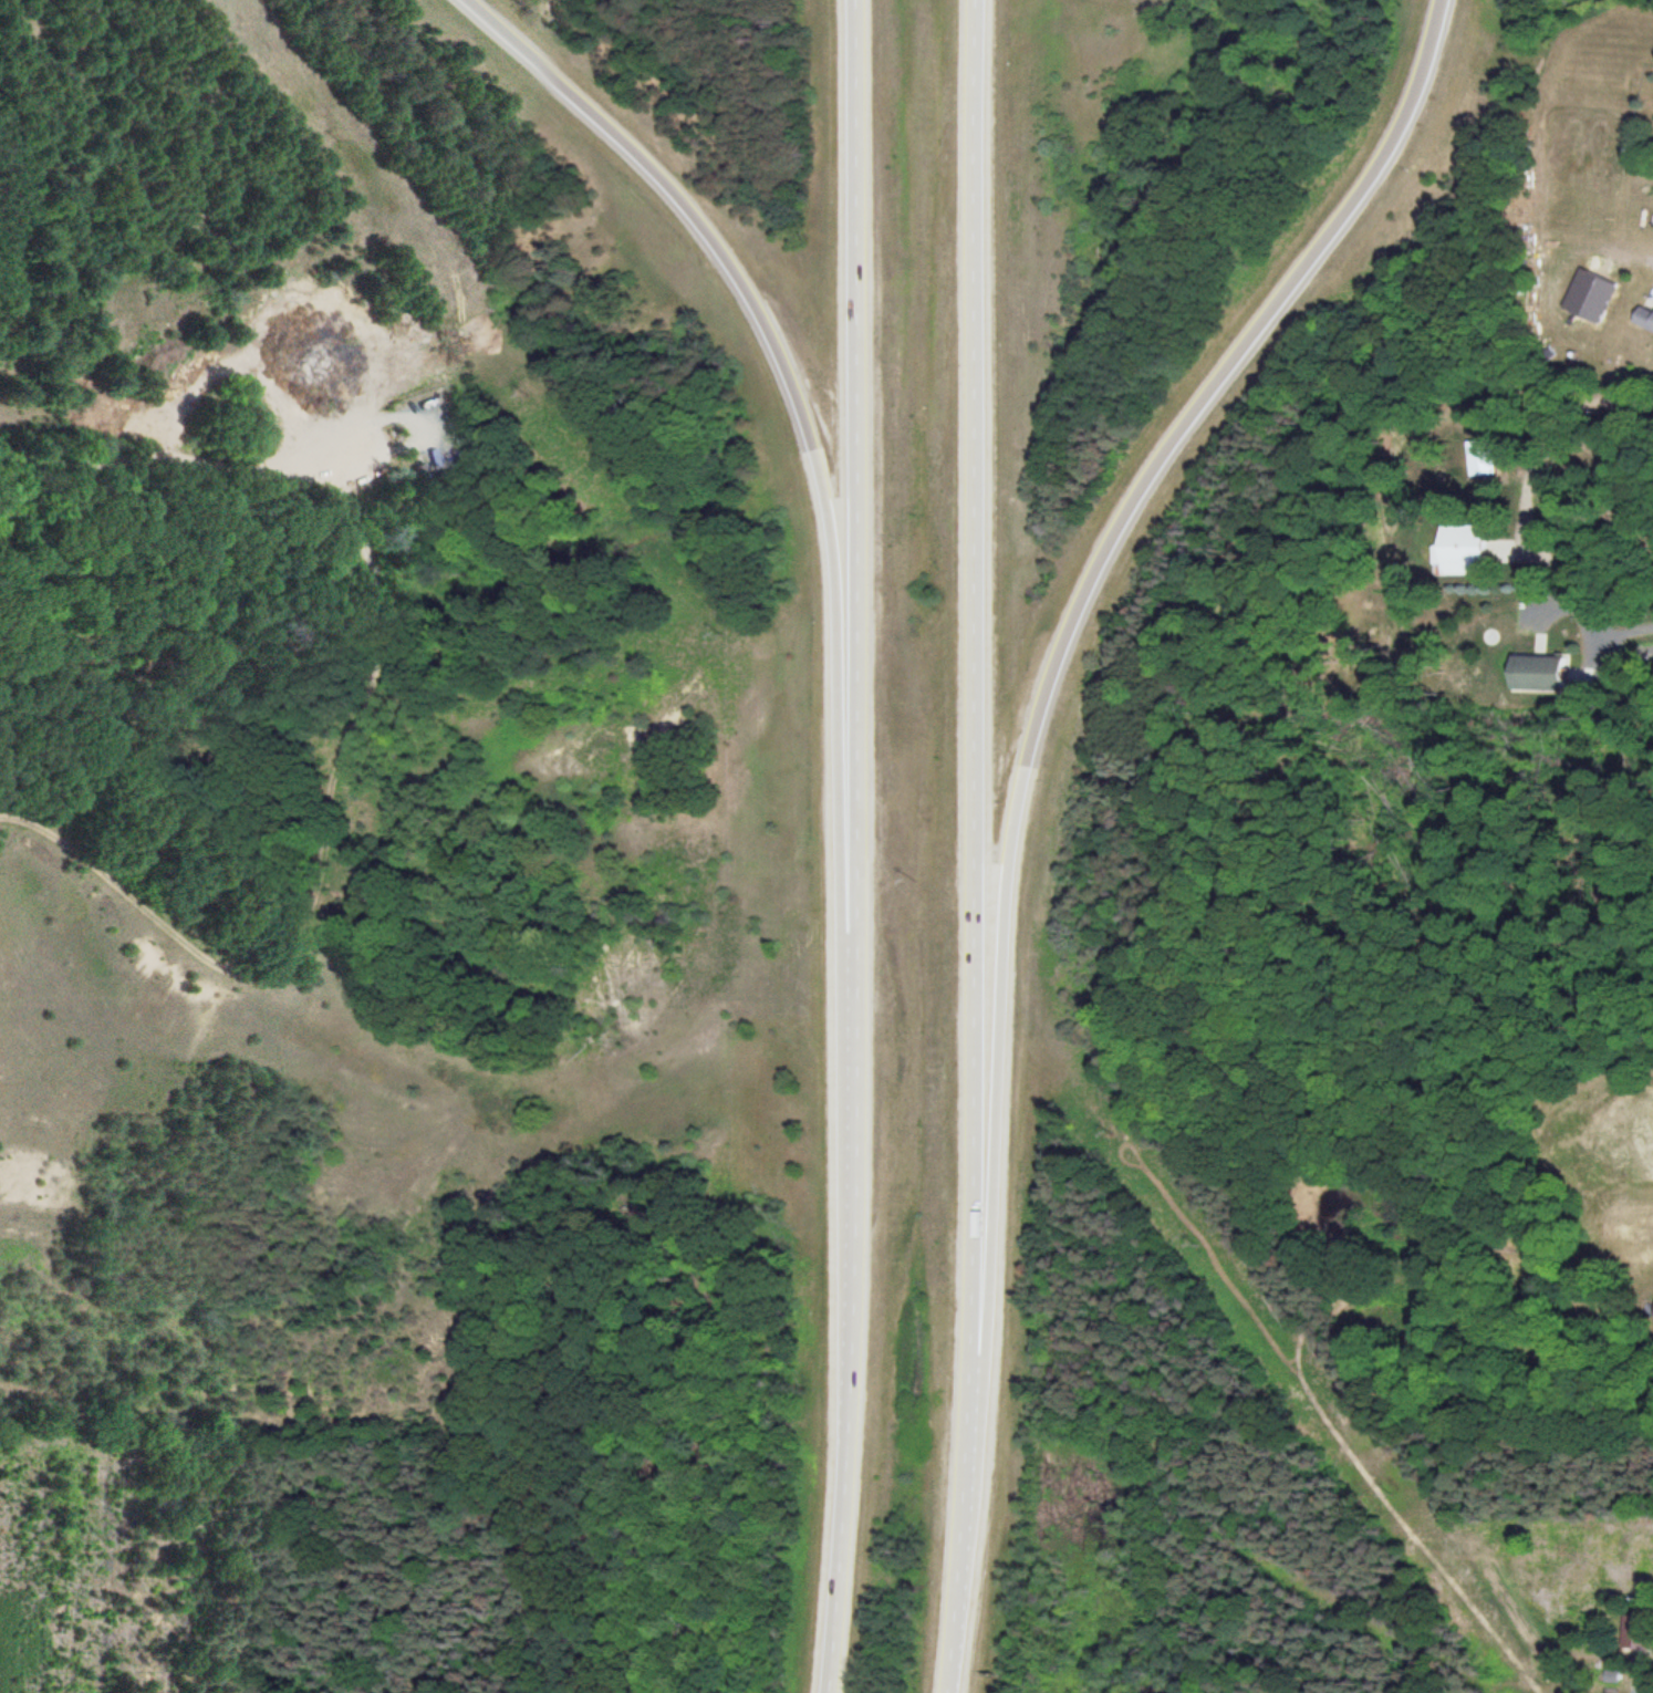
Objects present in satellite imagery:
road: (744, 293)
building: (1645, 319)
building: (1482, 457)
road: (1094, 541)
building: (1465, 551)
building: (1538, 673)
road: (354, 724)
road: (849, 846)
road: (977, 846)
building: (849, 1067)
building: (1640, 1125)

